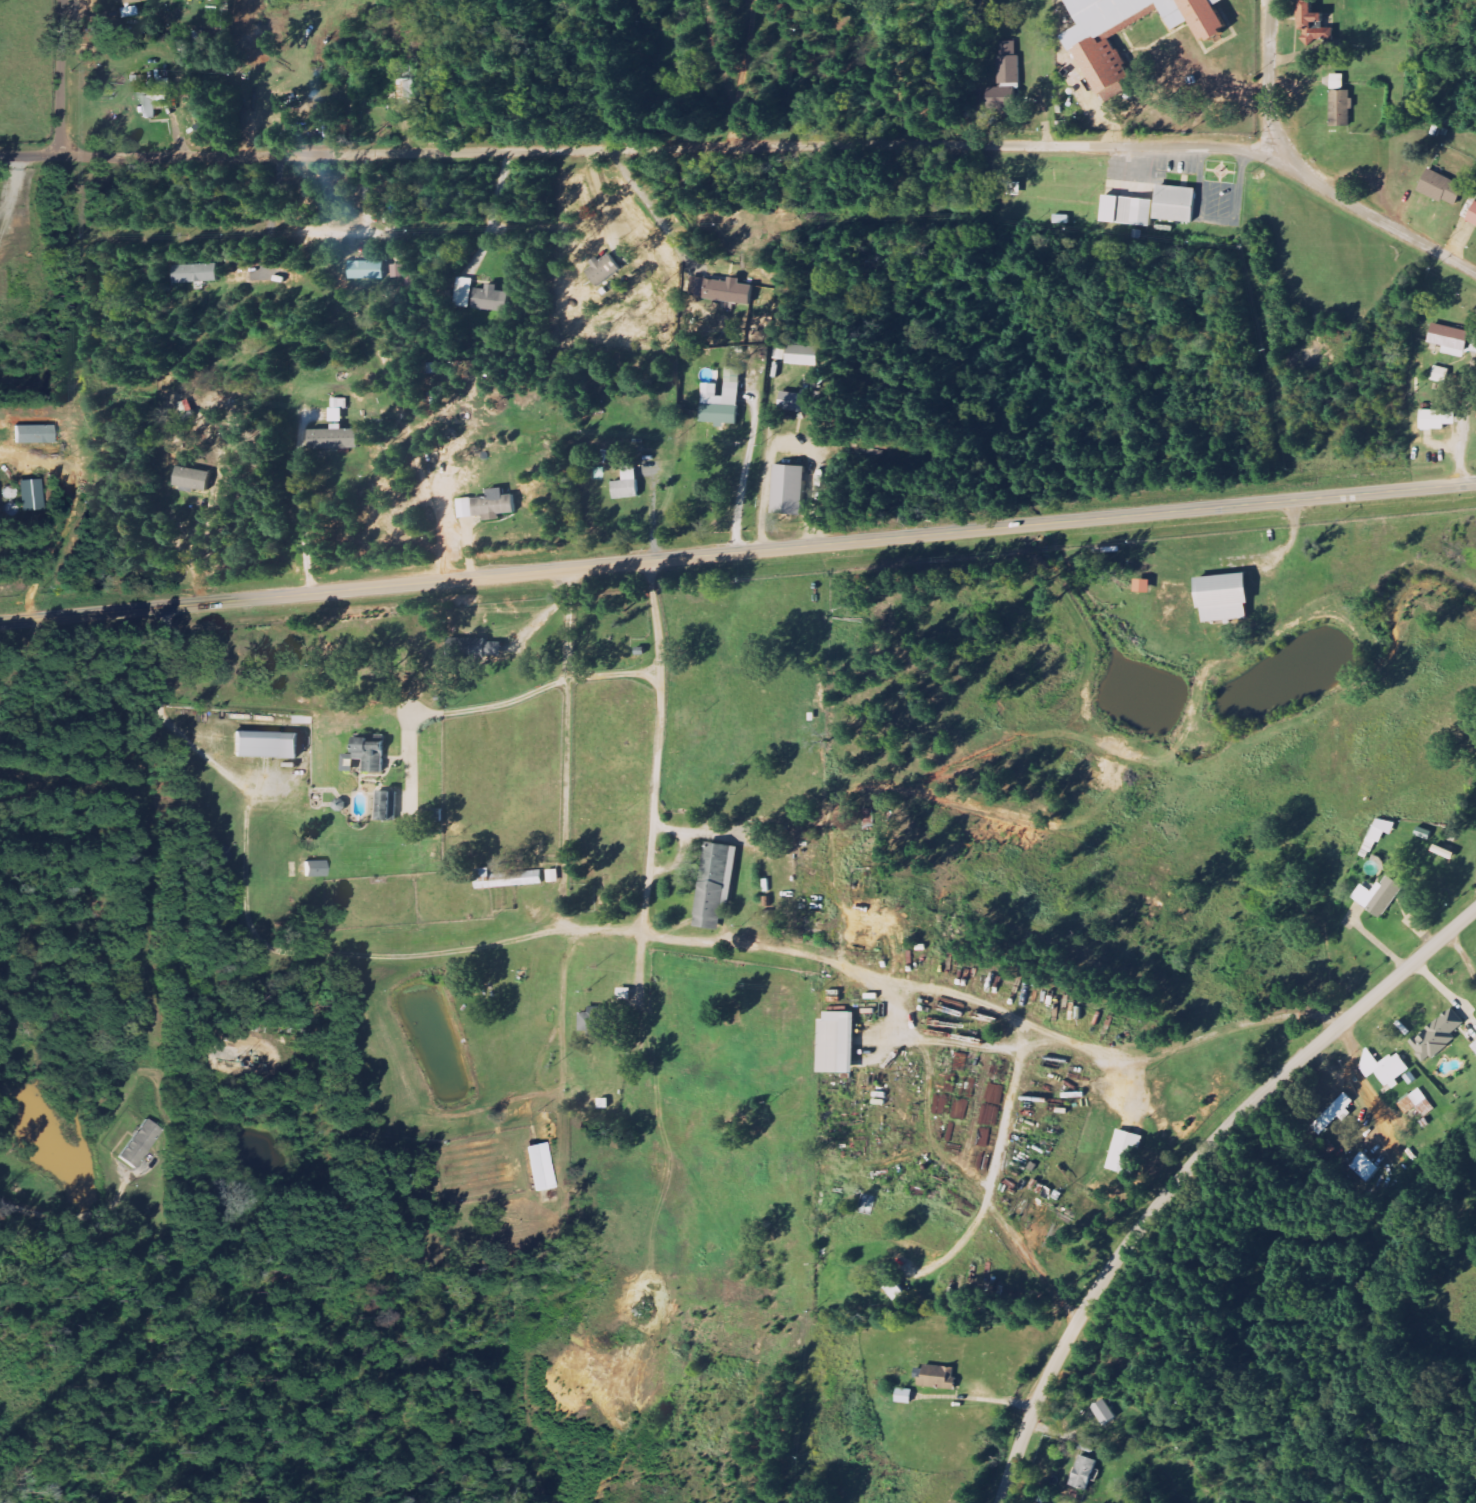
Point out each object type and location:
building: (1311, 17)
building: (259, 40)
building: (1101, 59)
road: (60, 77)
building: (1338, 82)
building: (153, 100)
building: (1002, 103)
building: (1341, 108)
road: (645, 148)
road: (1310, 176)
building: (1442, 187)
building: (1015, 188)
building: (1175, 203)
road: (491, 208)
building: (1128, 210)
building: (1472, 215)
building: (603, 269)
building: (368, 270)
building: (399, 270)
building: (197, 273)
building: (728, 291)
building: (465, 292)
building: (492, 298)
building: (1450, 338)
building: (780, 353)
building: (804, 355)
building: (722, 401)
building: (800, 402)
building: (1437, 419)
building: (335, 438)
building: (192, 479)
building: (627, 482)
building: (789, 490)
building: (26, 495)
building: (487, 505)
road: (737, 552)
building: (1143, 586)
building: (1222, 598)
building: (478, 648)
building: (264, 744)
road: (658, 747)
building: (366, 755)
building: (387, 805)
building: (1382, 829)
building: (1424, 833)
building: (312, 869)
building: (554, 875)
building: (507, 878)
building: (715, 883)
building: (1379, 895)
road: (450, 952)
building: (624, 993)
building: (595, 1021)
building: (1438, 1035)
building: (837, 1042)
building: (1474, 1046)
road: (1070, 1061)
building: (1394, 1069)
building: (1418, 1103)
building: (1333, 1114)
road: (923, 1121)
building: (138, 1144)
building: (1124, 1152)
building: (536, 1167)
building: (1364, 1167)
road: (1189, 1168)
road: (992, 1196)
building: (938, 1377)
building: (1104, 1411)
building: (1084, 1471)

